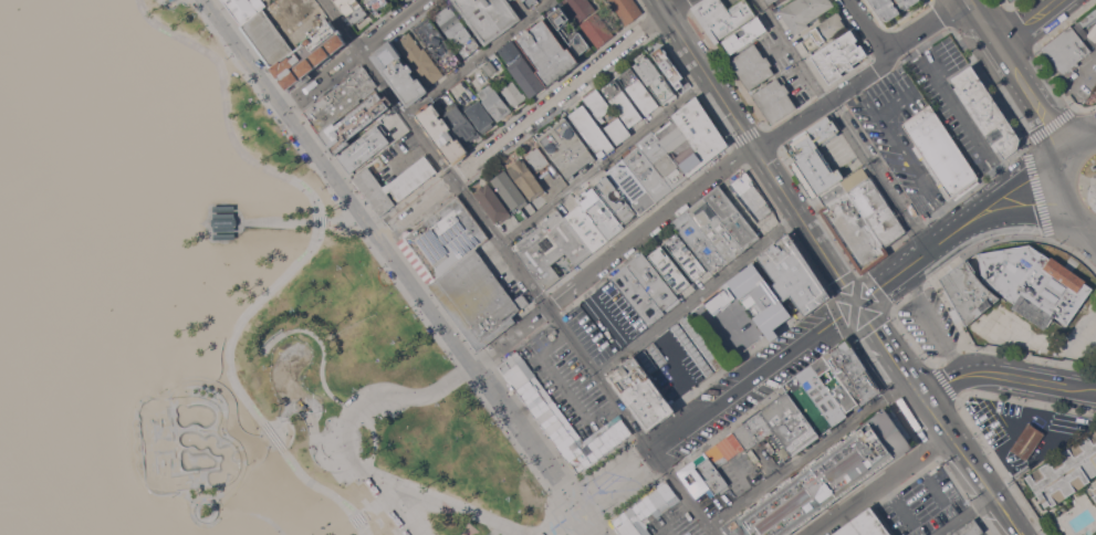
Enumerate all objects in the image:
building: (171, 0)
building: (220, 0)
building: (540, 0)
building: (783, 0)
building: (1012, 0)
building: (768, 1)
building: (771, 2)
building: (377, 4)
road: (152, 6)
road: (284, 7)
building: (890, 7)
building: (580, 8)
building: (244, 9)
building: (353, 9)
building: (626, 9)
building: (709, 10)
building: (804, 12)
road: (306, 15)
building: (489, 17)
building: (1088, 18)
building: (730, 21)
road: (1030, 24)
road: (341, 25)
road: (393, 25)
road: (866, 28)
building: (562, 29)
building: (457, 30)
building: (596, 30)
building: (824, 31)
building: (1092, 32)
building: (745, 34)
road: (992, 36)
building: (268, 39)
building: (438, 44)
building: (509, 51)
building: (836, 51)
building: (1066, 52)
building: (547, 53)
building: (309, 56)
road: (478, 57)
street lamp: (228, 59)
building: (419, 59)
building: (844, 64)
building: (668, 65)
building: (752, 66)
building: (490, 67)
building: (399, 73)
building: (526, 76)
road: (863, 78)
road: (325, 80)
building: (656, 81)
road: (1072, 86)
road: (1025, 87)
road: (568, 88)
building: (638, 91)
building: (513, 94)
building: (340, 99)
building: (774, 99)
building: (494, 102)
parking lot: (953, 102)
building: (622, 103)
road: (953, 103)
street lamp: (260, 104)
building: (598, 104)
road: (893, 106)
building: (985, 112)
road: (1043, 113)
building: (479, 116)
building: (354, 123)
building: (460, 123)
road: (844, 123)
building: (617, 130)
building: (593, 132)
road: (1073, 132)
building: (441, 134)
parking lot: (899, 135)
building: (691, 136)
building: (573, 143)
road: (1060, 144)
street lamp: (291, 145)
road: (1077, 147)
building: (364, 148)
road: (755, 150)
building: (940, 151)
building: (560, 153)
road: (408, 157)
building: (537, 158)
building: (815, 158)
road: (901, 158)
building: (662, 159)
road: (604, 161)
road: (1064, 166)
building: (9, 167)
building: (647, 174)
road: (1001, 176)
building: (18, 179)
building: (528, 181)
park: (1087, 181)
building: (394, 183)
road: (1078, 185)
building: (631, 186)
road: (999, 186)
building: (844, 187)
building: (510, 190)
road: (1061, 190)
building: (30, 193)
building: (751, 197)
building: (616, 199)
building: (492, 203)
building: (222, 208)
road: (416, 208)
building: (878, 212)
road: (1038, 212)
building: (601, 213)
building: (732, 217)
building: (222, 221)
road: (980, 221)
road: (278, 222)
road: (341, 222)
road: (648, 224)
road: (1078, 227)
street lamp: (352, 228)
building: (586, 228)
road: (323, 230)
building: (716, 230)
building: (854, 232)
building: (223, 235)
building: (441, 239)
building: (700, 242)
building: (551, 248)
building: (686, 256)
road: (300, 259)
street lamp: (340, 266)
road: (902, 266)
road: (401, 270)
building: (669, 270)
building: (793, 274)
building: (1034, 283)
building: (646, 289)
road: (583, 291)
building: (968, 292)
road: (537, 293)
road: (697, 295)
building: (476, 296)
building: (719, 298)
building: (760, 298)
road: (834, 301)
traffic signals: (856, 302)
road: (860, 303)
road: (855, 306)
road: (575, 312)
parking lot: (605, 321)
road: (928, 322)
parking lot: (929, 323)
road: (609, 324)
road: (508, 334)
building: (552, 335)
building: (1093, 336)
road: (888, 350)
road: (324, 352)
parking lot: (758, 357)
street lamp: (446, 359)
parking lot: (679, 360)
building: (852, 371)
road: (677, 373)
road: (753, 375)
road: (1005, 375)
parking lot: (570, 381)
building: (834, 384)
road: (288, 385)
street lamp: (467, 387)
road: (563, 387)
street lamp: (355, 389)
street lamp: (159, 391)
building: (639, 394)
road: (404, 395)
building: (821, 395)
parking lot: (744, 399)
road: (291, 403)
park: (382, 405)
building: (806, 405)
road: (991, 406)
building: (556, 416)
road: (312, 423)
building: (789, 423)
building: (753, 430)
road: (1016, 432)
road: (375, 436)
road: (320, 437)
road: (356, 439)
road: (267, 440)
building: (1027, 441)
road: (253, 448)
road: (273, 449)
building: (724, 450)
building: (753, 453)
road: (810, 453)
park: (239, 457)
street lamp: (248, 465)
road: (972, 466)
building: (1066, 471)
building: (701, 475)
road: (615, 479)
road: (237, 480)
building: (823, 480)
road: (928, 482)
road: (879, 484)
flagpole: (585, 486)
building: (1095, 490)
street lamp: (545, 494)
road: (205, 496)
building: (1095, 496)
road: (439, 497)
street lamp: (173, 500)
road: (390, 502)
road: (897, 504)
road: (370, 507)
road: (451, 508)
road: (221, 510)
building: (645, 511)
flagpole: (604, 513)
road: (254, 515)
road: (965, 515)
road: (674, 516)
building: (688, 516)
road: (560, 521)
parking lot: (678, 523)
road: (348, 524)
building: (864, 525)
road: (203, 526)
road: (472, 526)
street lamp: (324, 527)
road: (349, 527)
road: (1000, 527)
building: (970, 528)
road: (439, 532)

